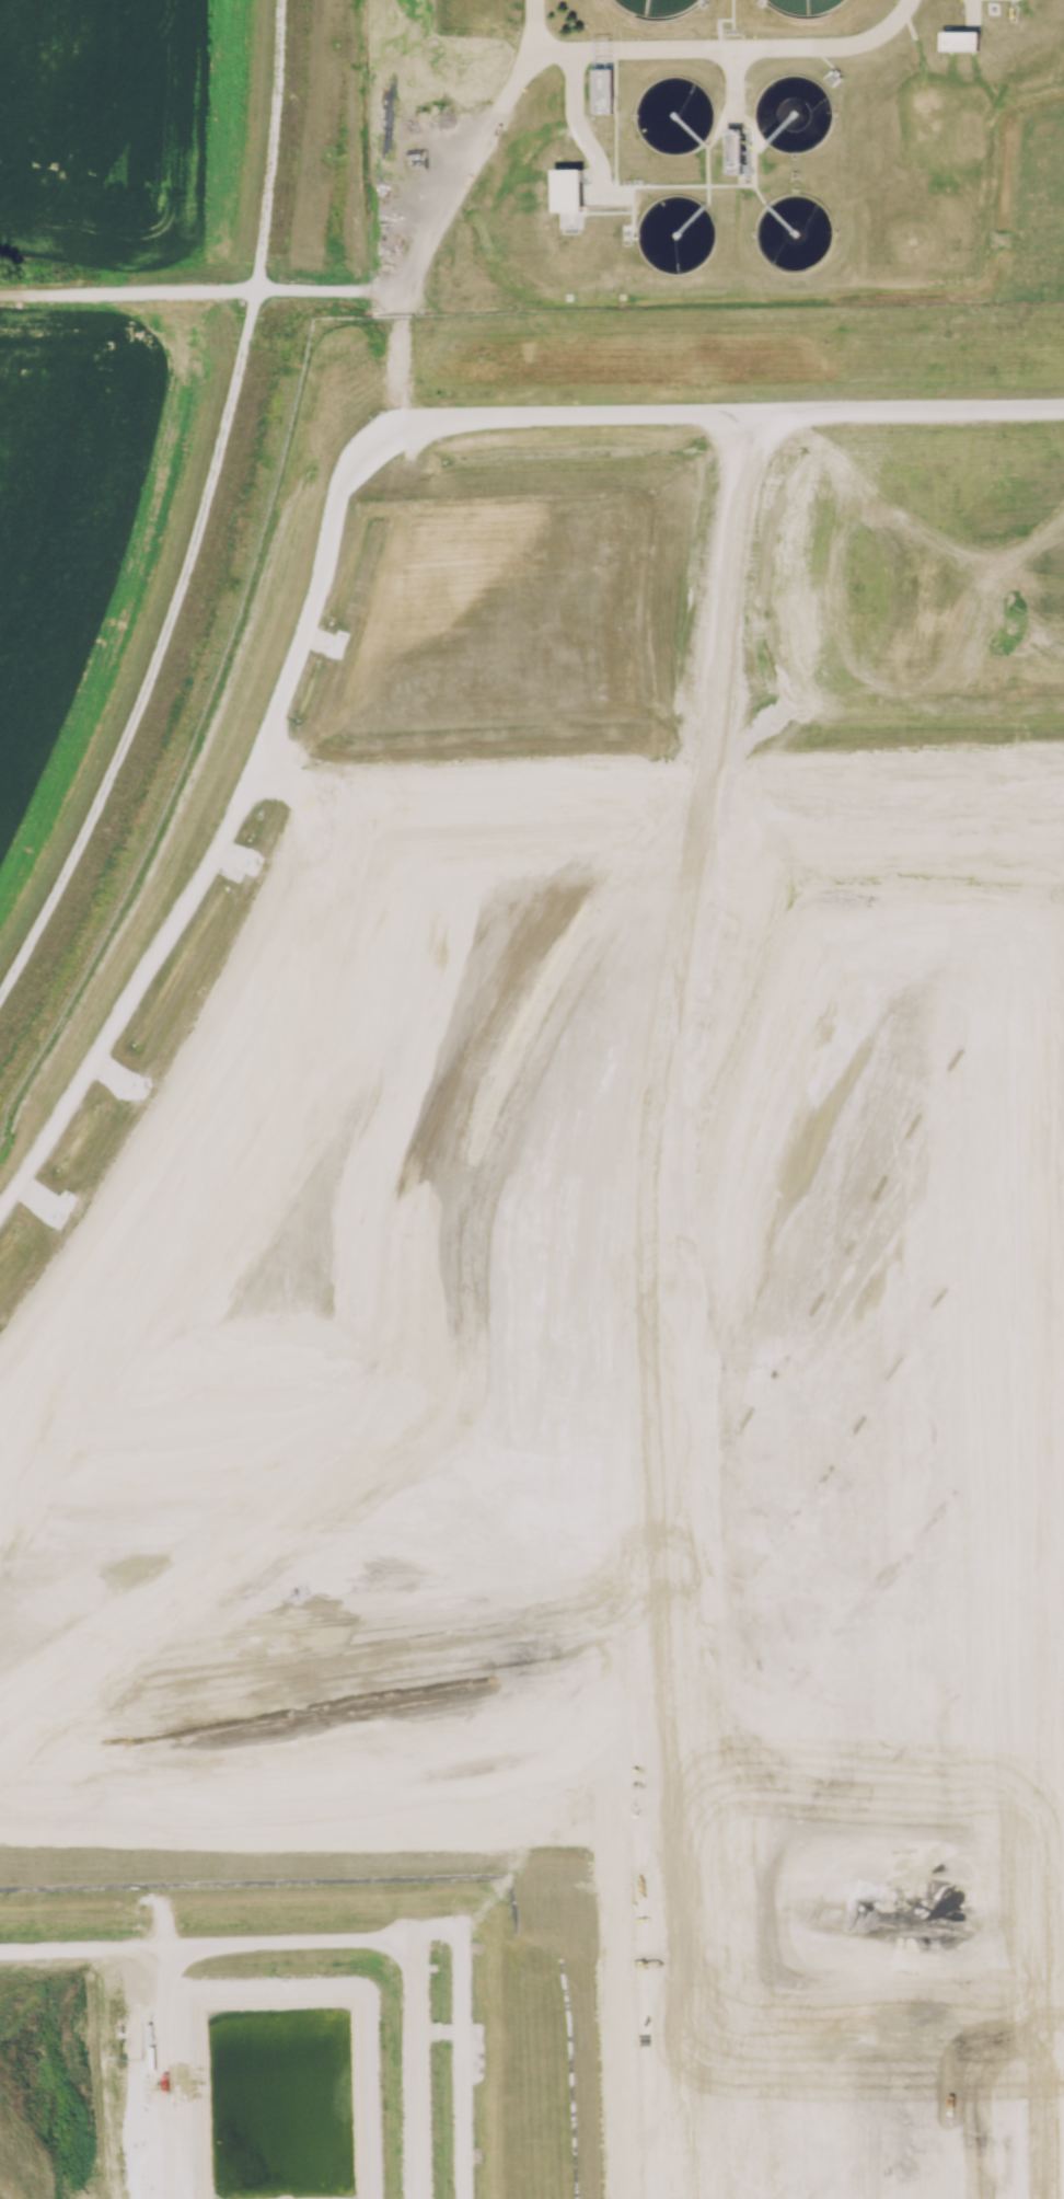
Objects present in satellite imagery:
wastewater plant: (713, 154)
road: (731, 413)
road: (185, 498)
road: (405, 1142)
road: (174, 1957)

